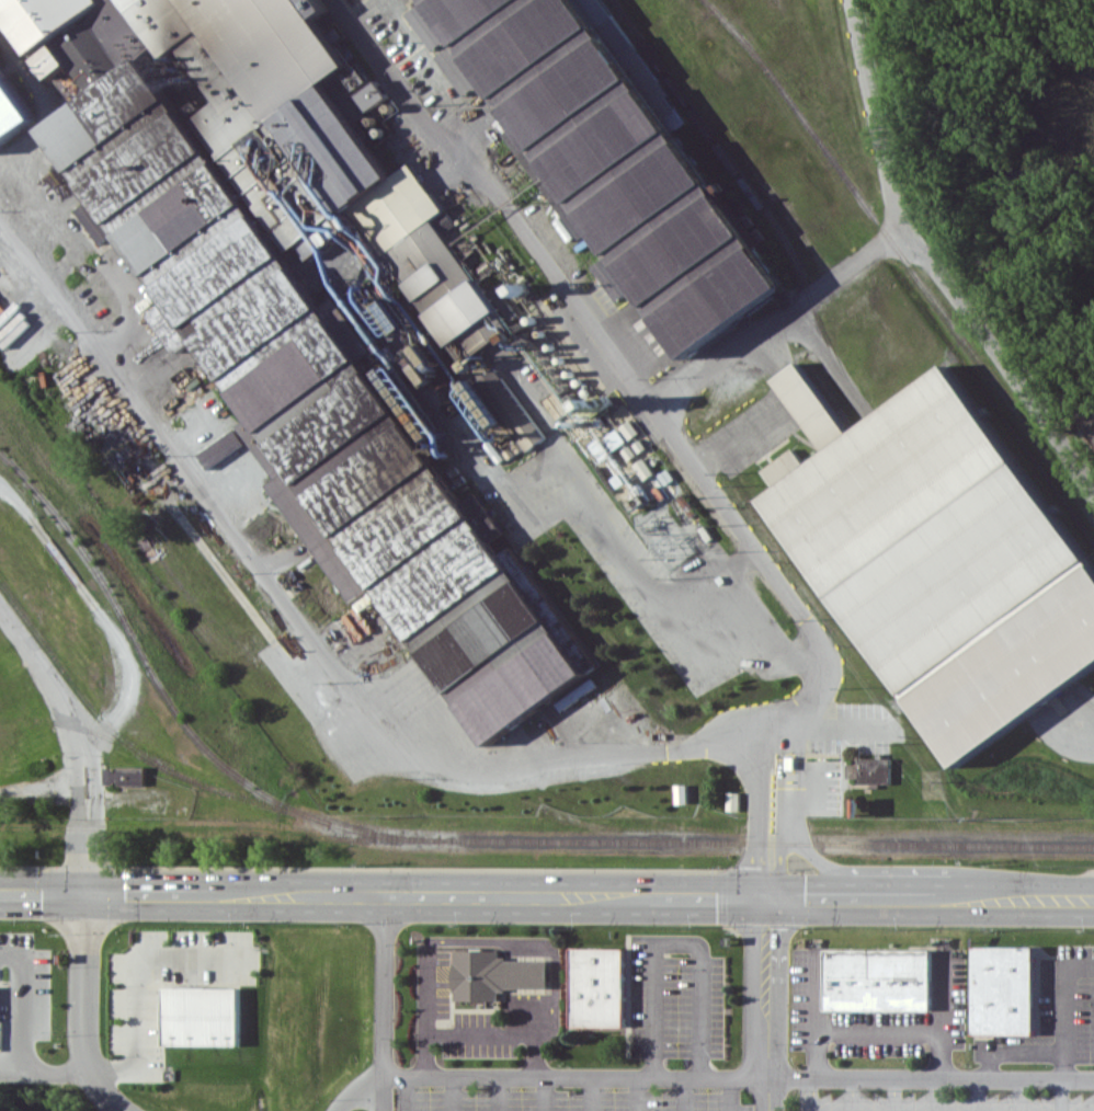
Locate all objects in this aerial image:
building: (425, 26)
building: (457, 70)
building: (12, 108)
railway: (651, 125)
railway: (589, 142)
railway: (562, 149)
building: (619, 160)
railway: (755, 199)
railway: (902, 255)
road: (931, 262)
building: (611, 277)
road: (777, 314)
building: (497, 330)
building: (312, 403)
building: (505, 409)
road: (1087, 417)
road: (737, 444)
building: (220, 448)
railway: (967, 552)
building: (945, 563)
road: (634, 574)
road: (748, 618)
road: (37, 661)
building: (577, 692)
railway: (1081, 695)
road: (1071, 719)
road: (851, 724)
road: (715, 741)
road: (95, 764)
road: (77, 766)
building: (871, 770)
building: (125, 776)
road: (38, 789)
road: (121, 803)
road: (782, 810)
road: (757, 814)
road: (800, 827)
railway: (764, 844)
road: (86, 855)
road: (43, 890)
traffic signals: (86, 891)
road: (150, 891)
road: (262, 892)
road: (432, 894)
road: (603, 896)
road: (708, 897)
traffic signals: (766, 898)
road: (807, 898)
road: (890, 898)
road: (939, 900)
road: (1021, 900)
road: (679, 943)
building: (494, 974)
building: (879, 978)
building: (600, 986)
building: (1005, 989)
road: (385, 1001)
road: (20, 1004)
road: (767, 1005)
road: (1063, 1006)
road: (84, 1007)
building: (202, 1016)
road: (818, 1016)
road: (942, 1017)
road: (880, 1032)
road: (480, 1033)
road: (139, 1034)
road: (547, 1077)
road: (932, 1078)
road: (409, 1093)
road: (454, 1093)
road: (500, 1093)
road: (545, 1093)
road: (592, 1093)
road: (639, 1093)
road: (685, 1093)
road: (730, 1093)
road: (810, 1095)
road: (853, 1095)
road: (896, 1095)
road: (936, 1095)
road: (978, 1095)
road: (1019, 1095)
road: (1060, 1095)

